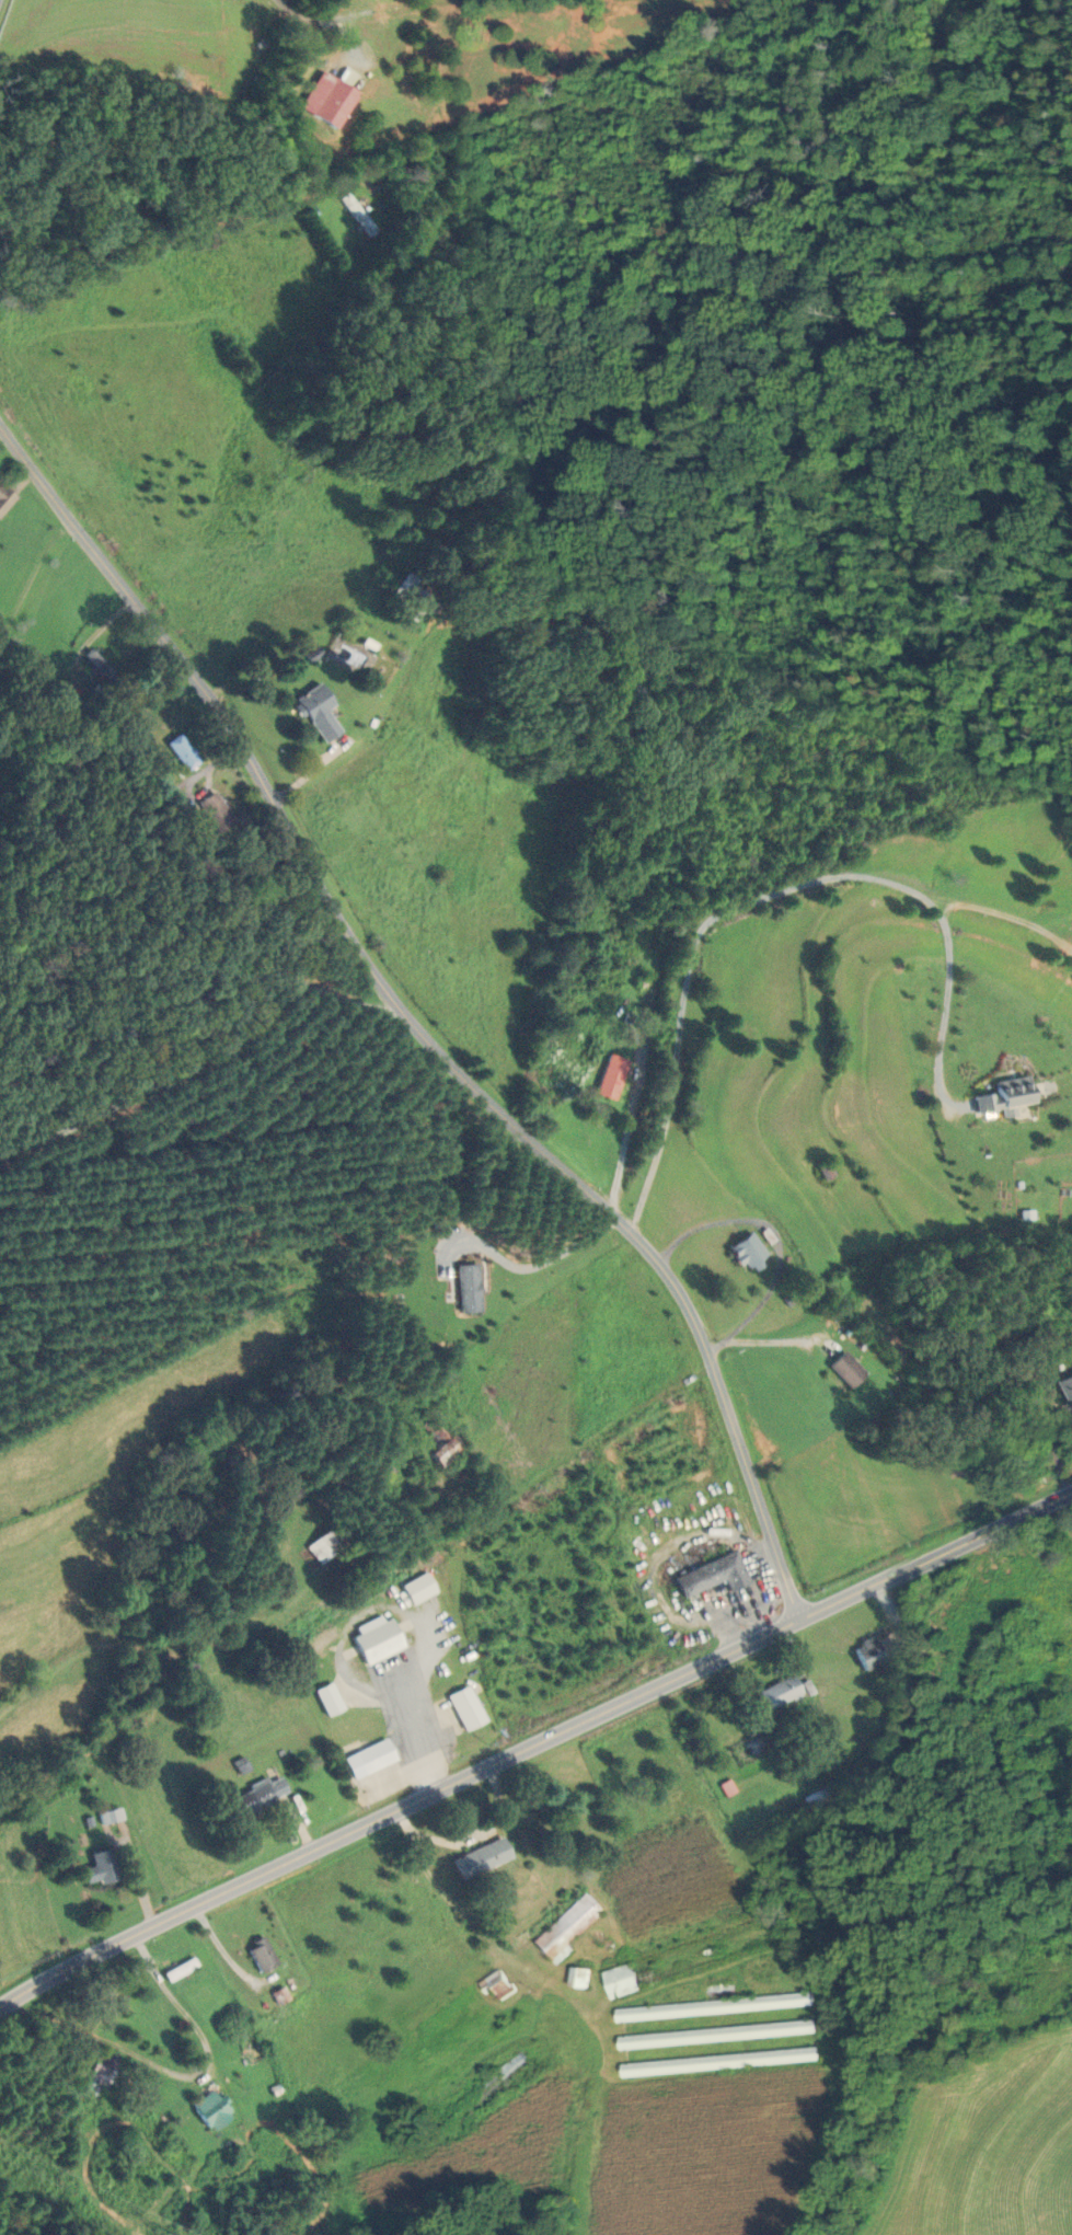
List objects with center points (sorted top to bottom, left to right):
road: (331, 22)
building: (327, 99)
building: (357, 214)
building: (4, 497)
building: (99, 665)
building: (64, 696)
building: (316, 712)
building: (182, 751)
building: (214, 813)
road: (769, 894)
road: (952, 900)
road: (1017, 918)
road: (412, 1023)
road: (205, 1056)
building: (612, 1076)
road: (777, 1237)
building: (748, 1252)
road: (530, 1268)
road: (965, 1306)
building: (845, 1370)
building: (1065, 1391)
road: (810, 1433)
building: (439, 1447)
building: (712, 1575)
building: (418, 1589)
building: (377, 1639)
building: (866, 1655)
building: (184, 1667)
building: (777, 1693)
building: (328, 1700)
building: (465, 1707)
road: (533, 1743)
building: (369, 1759)
building: (260, 1796)
building: (817, 1798)
building: (109, 1816)
road: (469, 1836)
building: (479, 1858)
building: (100, 1869)
building: (566, 1928)
building: (260, 1954)
building: (684, 1957)
building: (178, 1969)
building: (575, 1975)
building: (716, 1982)
building: (494, 1984)
building: (711, 2006)
building: (713, 2034)
building: (715, 2061)
building: (99, 2073)
road: (176, 2073)
building: (485, 2093)
building: (209, 2109)

